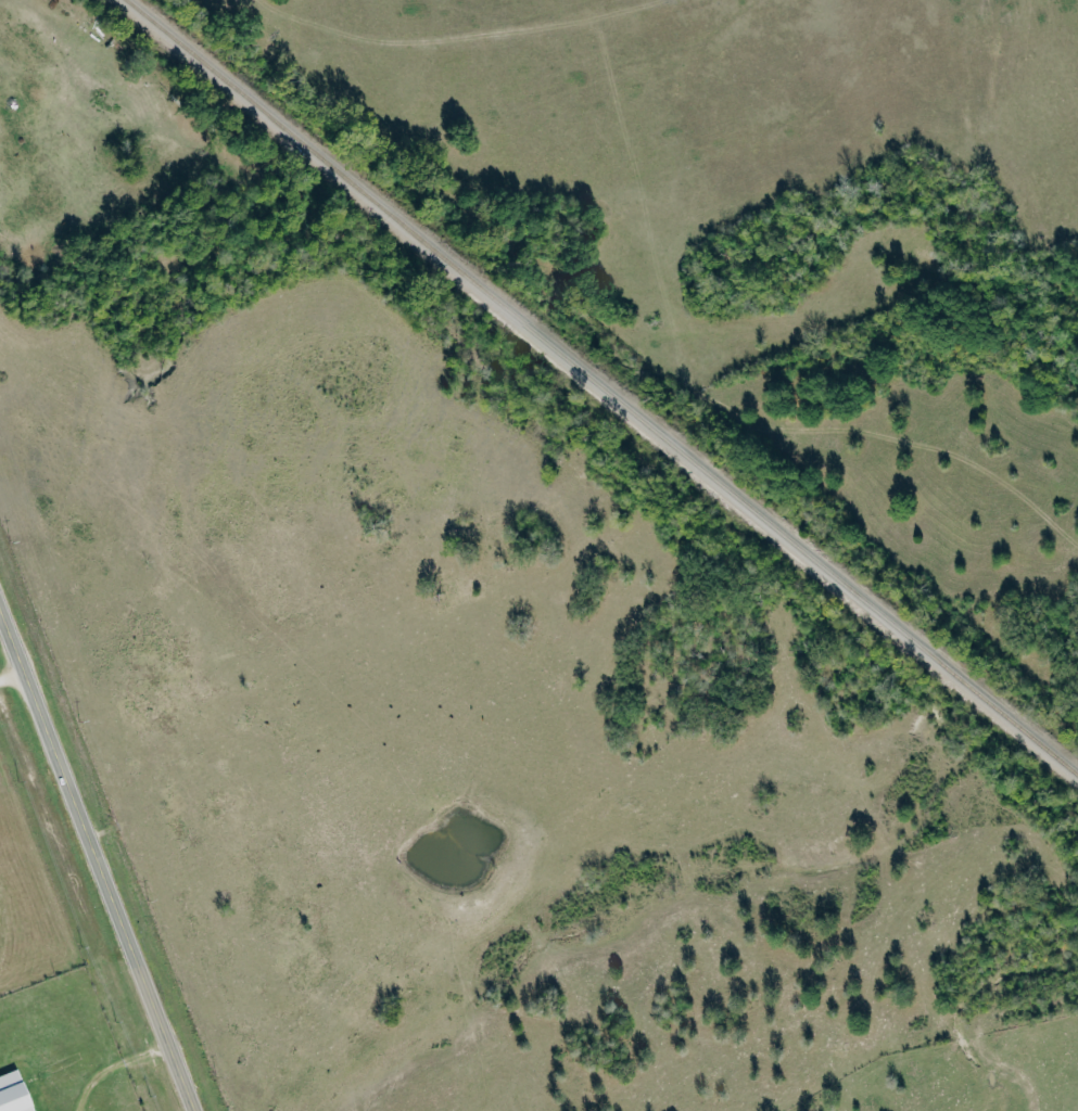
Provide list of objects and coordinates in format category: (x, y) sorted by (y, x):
railway: (604, 387)
road: (97, 859)
building: (15, 1093)

